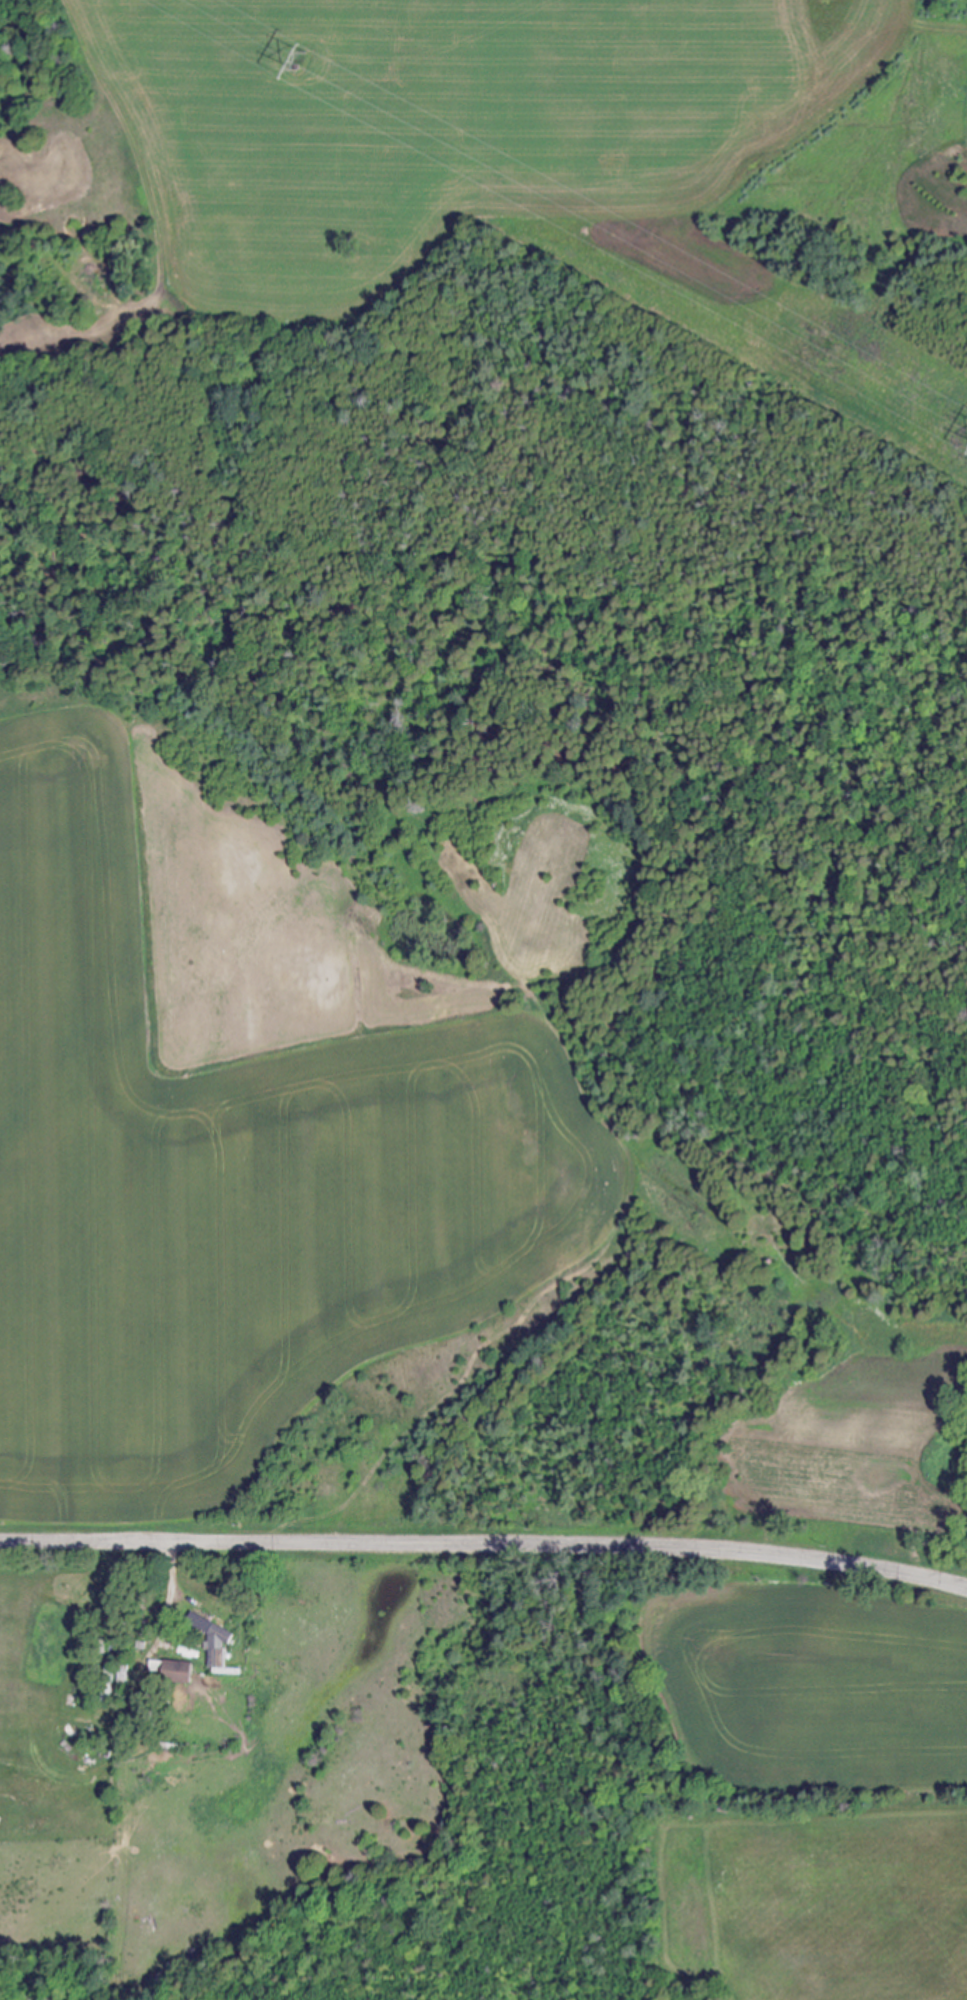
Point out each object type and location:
power tower: (306, 60)
road: (485, 1540)
building: (215, 1638)

